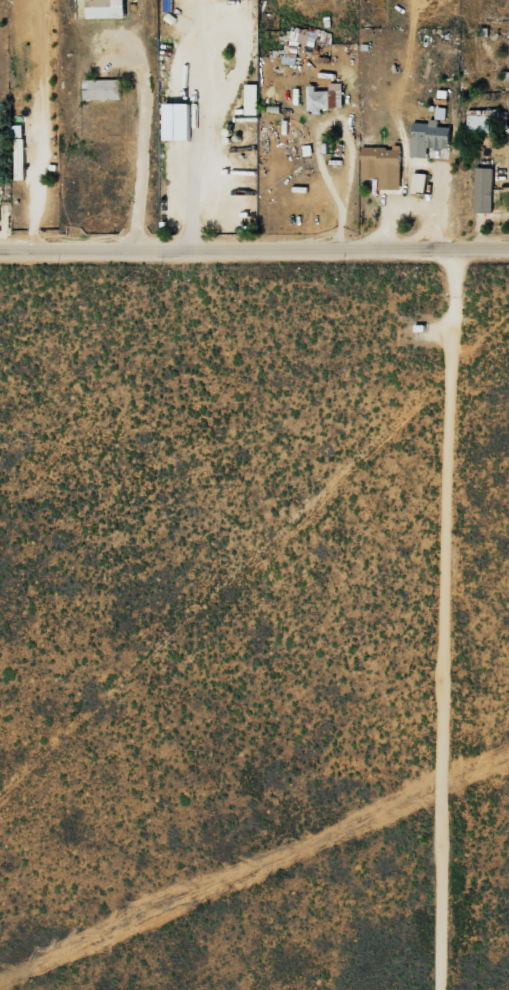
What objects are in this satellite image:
building: (106, 8)
building: (301, 36)
building: (102, 89)
building: (324, 97)
building: (252, 99)
building: (440, 113)
building: (478, 120)
building: (177, 121)
building: (17, 130)
building: (0, 135)
building: (428, 138)
building: (19, 158)
building: (382, 166)
building: (418, 182)
building: (484, 189)
road: (254, 242)

